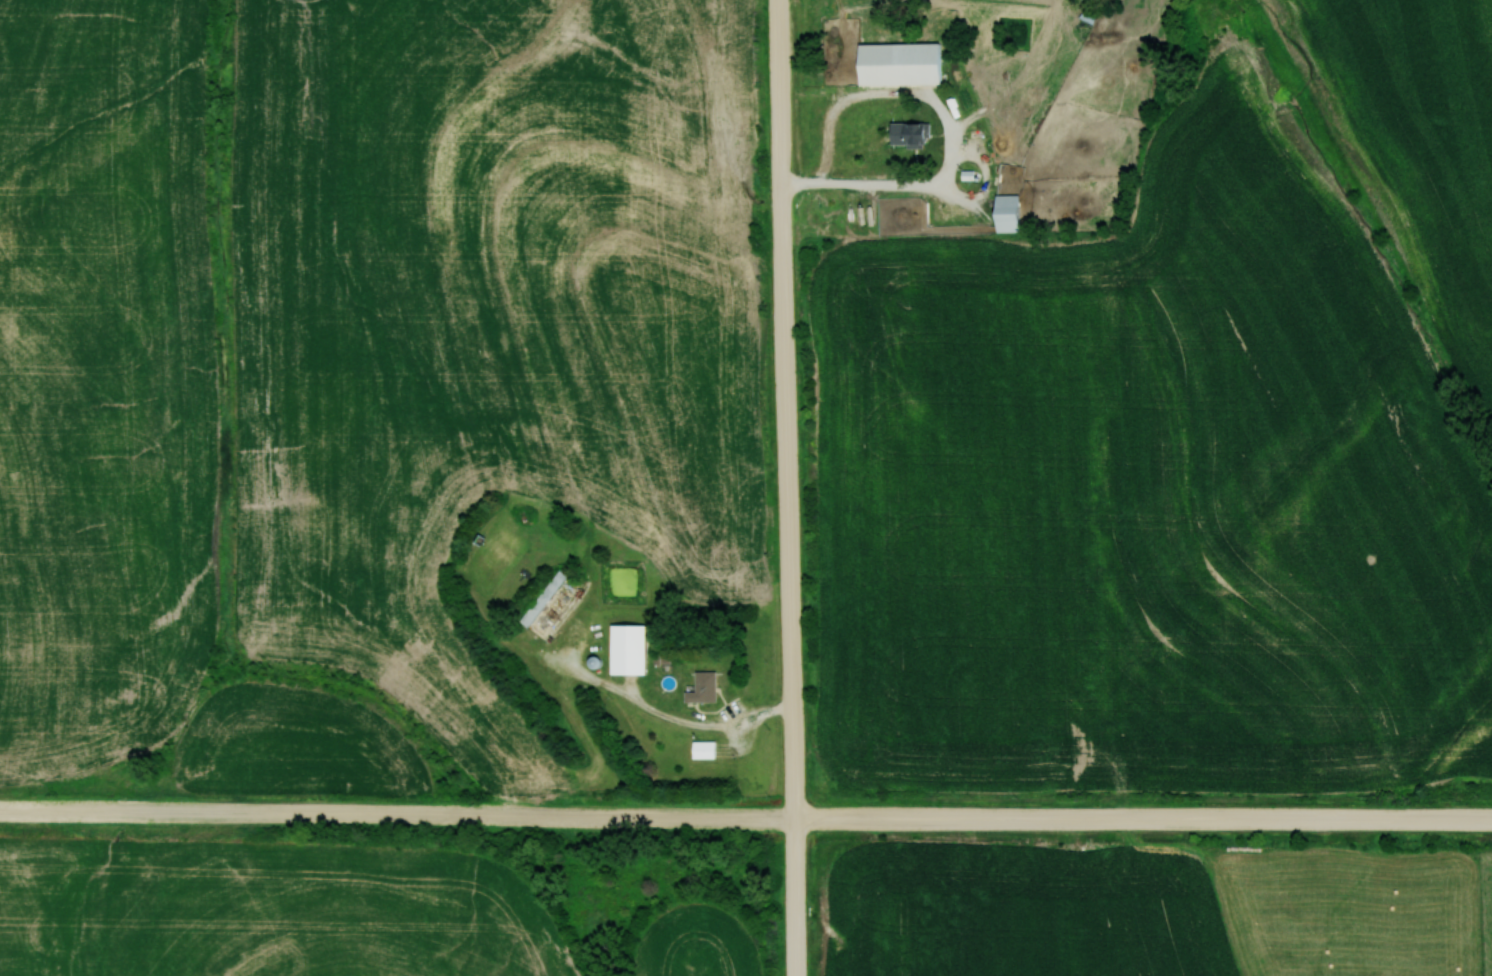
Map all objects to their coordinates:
building: (903, 64)
building: (918, 135)
building: (1011, 213)
road: (811, 487)
building: (632, 650)
building: (707, 688)
building: (707, 749)
road: (745, 817)

